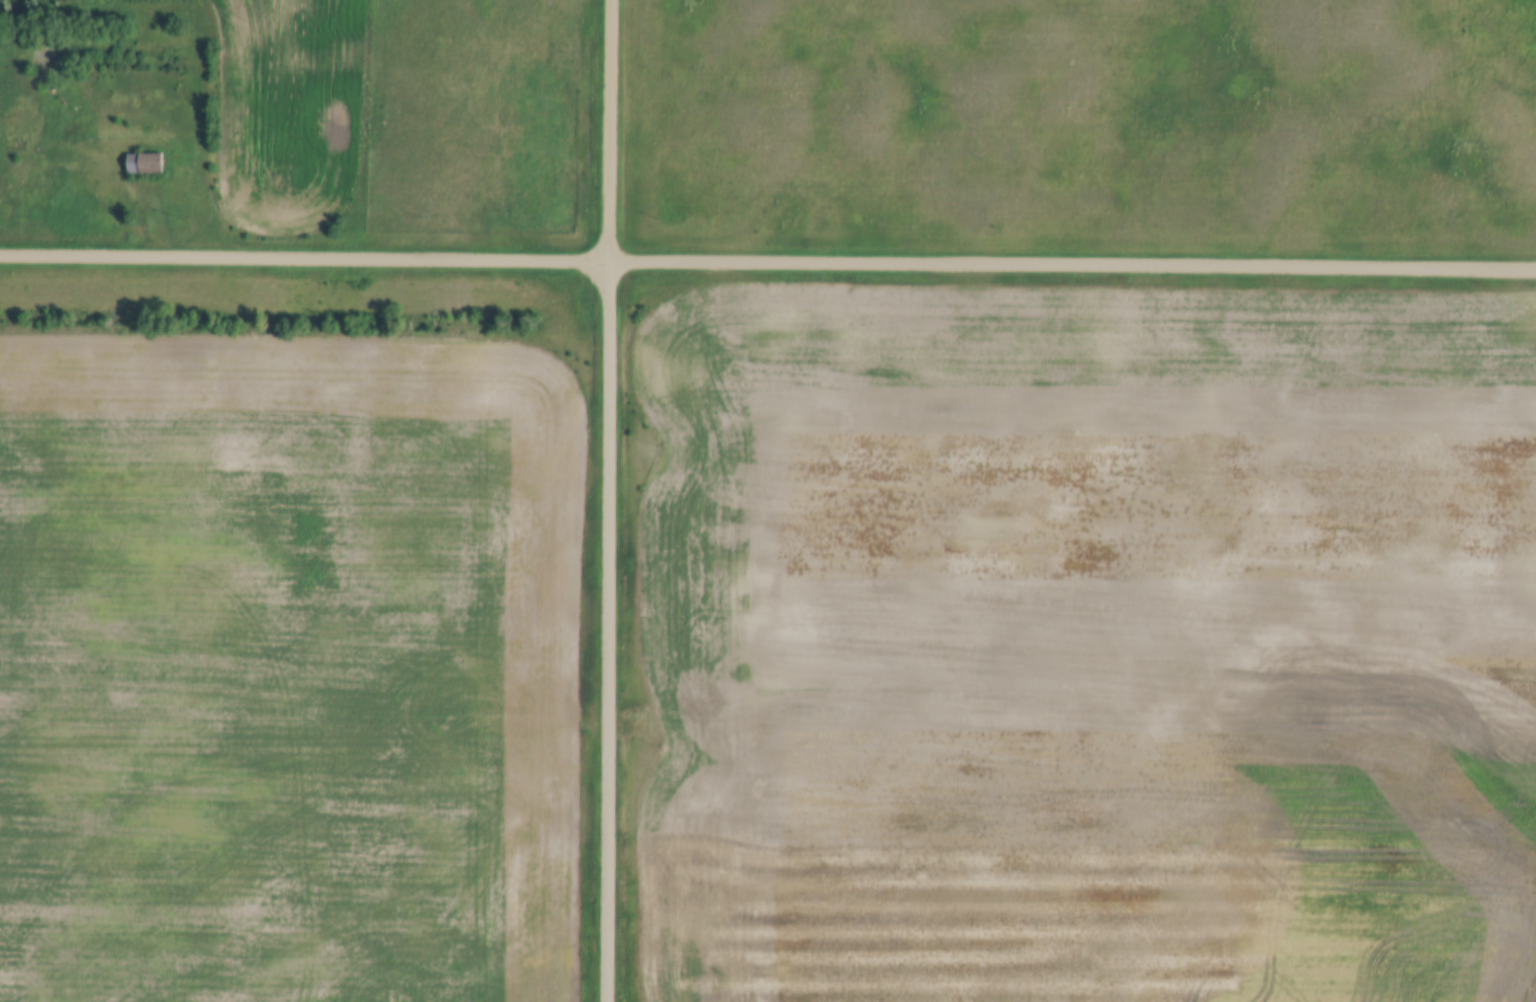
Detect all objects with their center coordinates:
building: (146, 163)
road: (768, 260)
road: (609, 500)

